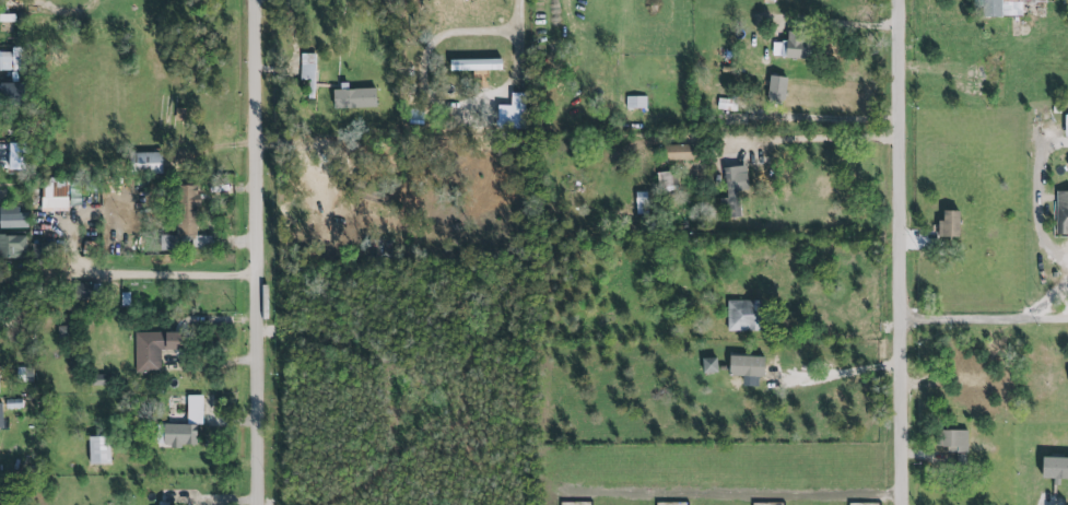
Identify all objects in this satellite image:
building: (1001, 7)
road: (854, 24)
road: (517, 30)
building: (794, 48)
building: (10, 60)
building: (472, 66)
building: (306, 77)
building: (775, 92)
building: (9, 94)
building: (352, 99)
building: (726, 105)
building: (515, 107)
building: (1065, 126)
road: (817, 139)
building: (678, 153)
building: (146, 163)
building: (668, 180)
building: (732, 189)
road: (1037, 191)
building: (54, 192)
building: (639, 203)
building: (1063, 212)
building: (12, 219)
building: (187, 221)
building: (950, 224)
building: (12, 245)
road: (262, 251)
road: (904, 252)
road: (175, 275)
building: (85, 292)
road: (1052, 293)
building: (742, 316)
road: (986, 319)
building: (154, 349)
building: (708, 366)
building: (744, 367)
road: (841, 373)
building: (971, 378)
building: (0, 380)
building: (0, 418)
building: (180, 426)
building: (952, 442)
building: (97, 451)
building: (1053, 468)

